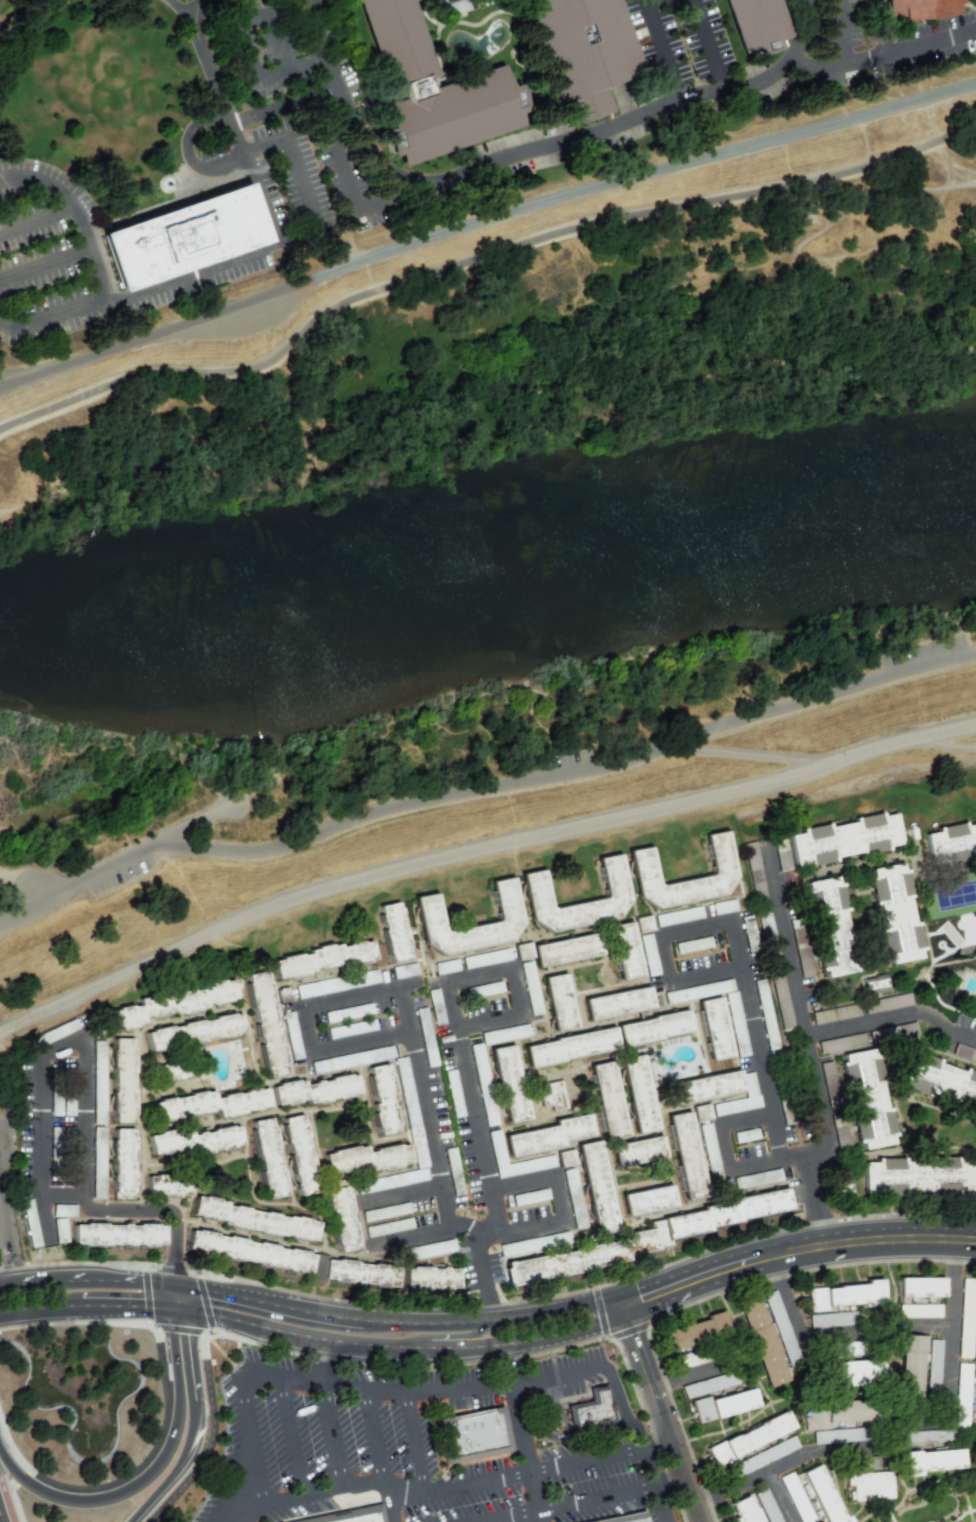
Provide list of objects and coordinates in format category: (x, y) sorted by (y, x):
building: (920, 9)
building: (752, 25)
road: (843, 27)
road: (26, 33)
road: (706, 33)
road: (283, 37)
road: (660, 40)
road: (247, 47)
building: (581, 51)
road: (877, 54)
road: (329, 57)
road: (721, 79)
building: (431, 90)
road: (679, 94)
road: (225, 98)
road: (287, 103)
road: (633, 120)
road: (320, 124)
road: (189, 151)
road: (382, 159)
road: (304, 180)
road: (356, 206)
road: (36, 218)
road: (483, 219)
building: (181, 236)
road: (234, 257)
road: (477, 261)
road: (44, 262)
road: (95, 263)
river: (487, 592)
road: (564, 773)
building: (843, 839)
building: (952, 841)
road: (477, 849)
building: (782, 852)
road: (115, 859)
building: (720, 862)
building: (755, 870)
building: (534, 885)
building: (723, 906)
building: (505, 908)
building: (895, 913)
building: (678, 916)
building: (643, 924)
building: (829, 925)
road: (696, 927)
building: (392, 932)
road: (783, 943)
building: (565, 949)
building: (624, 950)
road: (736, 950)
building: (523, 951)
road: (666, 956)
building: (322, 958)
building: (446, 966)
road: (705, 972)
road: (477, 973)
building: (336, 983)
building: (876, 984)
building: (708, 989)
road: (516, 990)
building: (780, 993)
building: (761, 994)
building: (675, 996)
road: (348, 997)
road: (746, 999)
building: (557, 1002)
building: (617, 1002)
building: (892, 1002)
building: (732, 1003)
building: (172, 1004)
road: (449, 1005)
road: (402, 1009)
building: (835, 1013)
road: (488, 1021)
building: (266, 1024)
road: (944, 1026)
building: (652, 1028)
building: (713, 1028)
road: (304, 1031)
building: (195, 1032)
road: (358, 1043)
building: (569, 1046)
building: (177, 1070)
building: (935, 1078)
building: (123, 1080)
building: (508, 1083)
building: (702, 1087)
building: (316, 1089)
building: (545, 1091)
road: (813, 1091)
building: (637, 1093)
building: (381, 1099)
building: (866, 1099)
building: (607, 1100)
road: (767, 1101)
building: (211, 1104)
road: (470, 1110)
road: (741, 1119)
road: (41, 1125)
road: (429, 1129)
road: (87, 1130)
building: (546, 1135)
building: (191, 1140)
road: (720, 1147)
building: (636, 1150)
building: (298, 1155)
building: (685, 1155)
building: (267, 1158)
building: (364, 1158)
road: (753, 1162)
building: (122, 1165)
road: (519, 1184)
building: (167, 1186)
building: (595, 1187)
building: (842, 1189)
road: (402, 1191)
road: (66, 1193)
road: (558, 1197)
building: (646, 1200)
road: (490, 1211)
building: (339, 1214)
road: (131, 1216)
building: (253, 1219)
road: (529, 1225)
road: (432, 1230)
building: (117, 1235)
building: (643, 1238)
road: (794, 1251)
road: (9, 1252)
road: (167, 1256)
road: (479, 1257)
building: (295, 1260)
building: (430, 1278)
building: (918, 1287)
road: (85, 1292)
building: (843, 1295)
road: (181, 1299)
road: (491, 1302)
road: (276, 1304)
building: (918, 1310)
road: (492, 1319)
building: (695, 1331)
road: (799, 1334)
road: (451, 1335)
building: (759, 1340)
road: (405, 1345)
road: (635, 1347)
road: (194, 1349)
road: (502, 1352)
road: (950, 1352)
road: (322, 1355)
building: (909, 1366)
building: (852, 1372)
road: (693, 1374)
road: (428, 1381)
building: (723, 1404)
building: (974, 1410)
building: (584, 1411)
road: (628, 1427)
road: (211, 1428)
road: (332, 1430)
road: (286, 1432)
road: (254, 1434)
road: (414, 1434)
building: (472, 1435)
building: (926, 1436)
building: (748, 1437)
road: (522, 1440)
road: (379, 1449)
road: (242, 1451)
road: (5, 1454)
road: (675, 1454)
building: (929, 1461)
road: (5, 1462)
road: (784, 1464)
road: (161, 1465)
road: (179, 1466)
road: (444, 1485)
building: (868, 1485)
building: (821, 1494)
road: (780, 1497)
road: (660, 1504)
road: (582, 1505)
road: (4, 1507)
building: (742, 1510)
building: (347, 1516)
building: (624, 1518)

